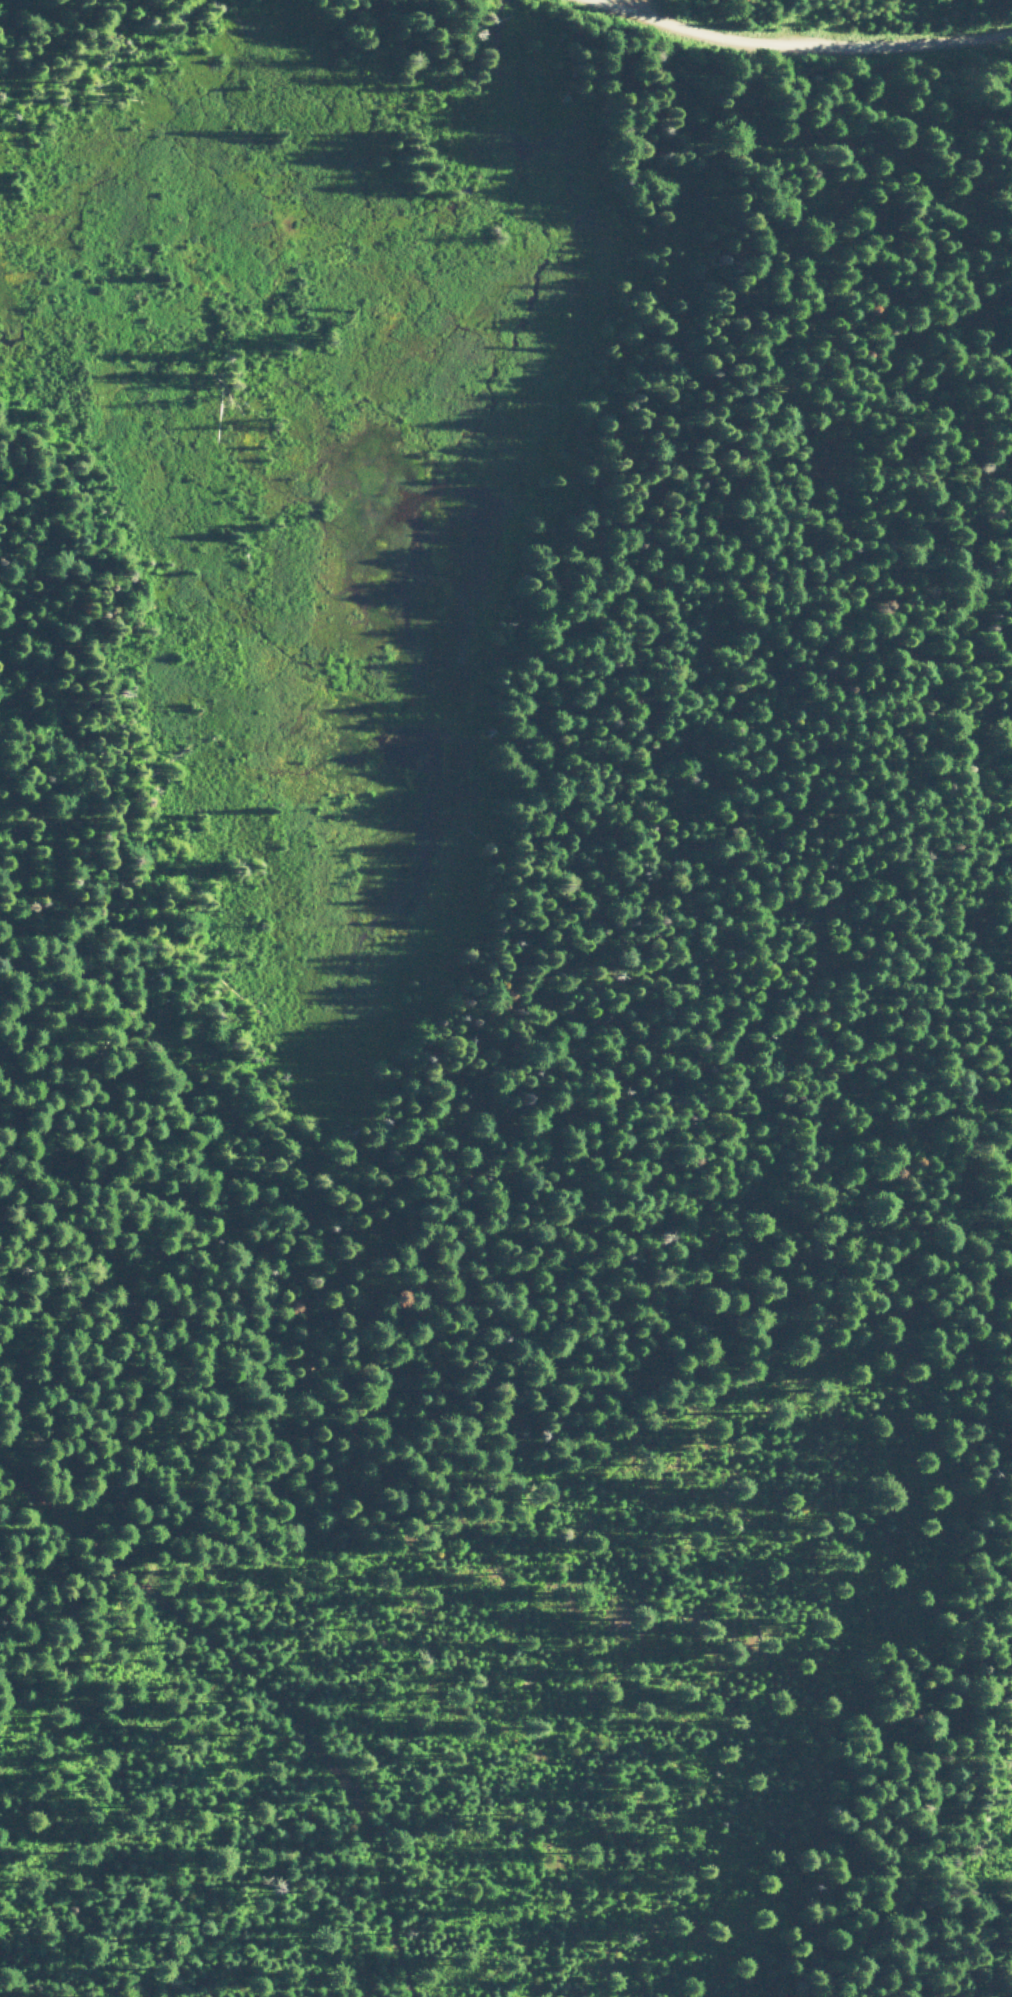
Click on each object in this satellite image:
road: (799, 48)

